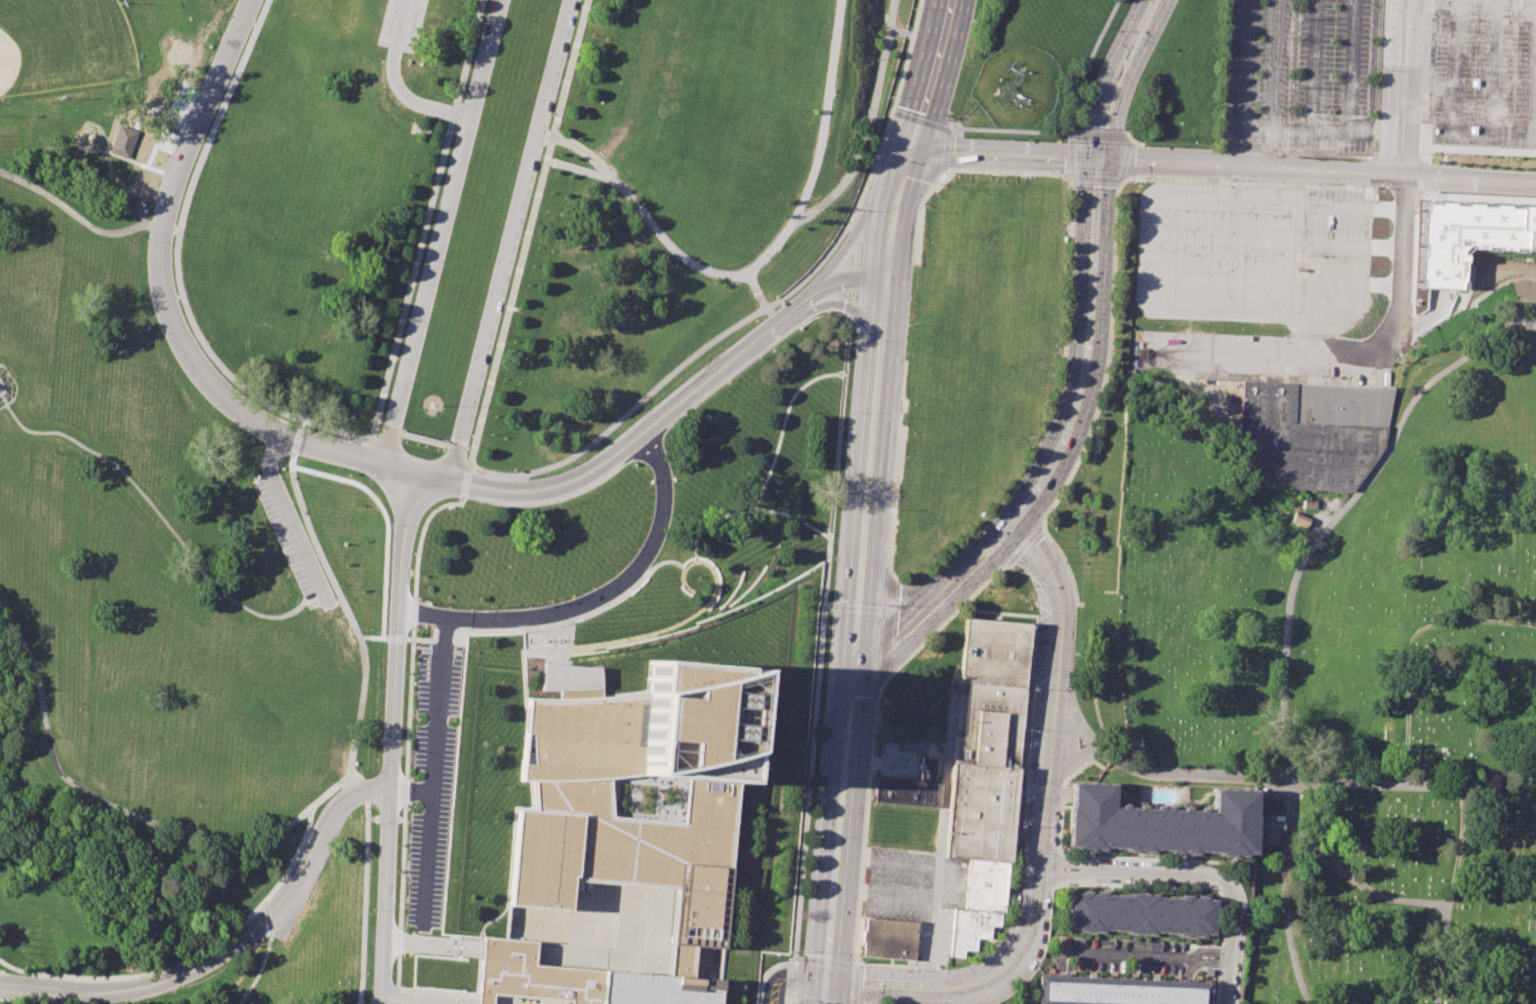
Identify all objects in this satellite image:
street lamp: (579, 5)
street lamp: (913, 9)
street lamp: (972, 22)
parking lot: (401, 24)
street lamp: (1113, 31)
road: (902, 32)
park: (63, 45)
street lamp: (1152, 51)
street lamp: (472, 58)
street lamp: (822, 73)
road: (926, 75)
parking lot: (1300, 75)
street lamp: (201, 77)
road: (1115, 77)
parking lot: (1484, 80)
street lamp: (560, 81)
road: (395, 85)
street lamp: (889, 98)
street lamp: (1083, 113)
road: (219, 114)
street lamp: (950, 118)
road: (918, 122)
road: (1069, 122)
street lamp: (1124, 123)
road: (868, 124)
street lamp: (453, 134)
road: (1069, 136)
road: (1128, 136)
street lamp: (1134, 138)
street lamp: (1007, 139)
building: (124, 141)
road: (1136, 142)
road: (1474, 149)
traffic signals: (904, 150)
road: (944, 151)
street lamp: (541, 155)
street lamp: (873, 155)
road: (1000, 155)
road: (1324, 156)
traffic signals: (1098, 158)
road: (1397, 158)
street lamp: (166, 159)
road: (1124, 160)
road: (1316, 170)
road: (581, 171)
road: (1004, 172)
street lamp: (1056, 173)
road: (1375, 173)
street lamp: (945, 174)
road: (1419, 174)
road: (1075, 178)
street lamp: (621, 179)
street lamp: (1226, 180)
road: (1248, 183)
road: (1072, 184)
street lamp: (1308, 184)
street lamp: (1375, 188)
road: (1397, 189)
street lamp: (797, 193)
road: (1476, 193)
street lamp: (37, 195)
street lamp: (1116, 195)
street lamp: (1073, 197)
street lamp: (851, 207)
street lamp: (434, 208)
park: (520, 209)
street lamp: (918, 211)
road: (918, 213)
road: (427, 218)
street lamp: (79, 225)
road: (531, 227)
street lamp: (522, 230)
road: (444, 232)
street lamp: (131, 234)
road: (850, 234)
street lamp: (183, 235)
building: (1466, 238)
road: (507, 239)
road: (165, 241)
street lamp: (145, 243)
parking lot: (1251, 254)
road: (851, 256)
street lamp: (708, 264)
road: (759, 265)
street lamp: (1069, 270)
street lamp: (1113, 273)
road: (849, 277)
road: (751, 280)
road: (1391, 282)
street lamp: (415, 283)
street lamp: (186, 292)
road: (848, 297)
road: (1090, 299)
street lamp: (502, 306)
road: (763, 308)
road: (769, 312)
street lamp: (825, 312)
road: (847, 318)
street lamp: (907, 326)
street lamp: (159, 333)
street lamp: (207, 339)
street lamp: (851, 339)
road: (878, 344)
street lamp: (1065, 346)
street lamp: (1109, 351)
street lamp: (396, 357)
street lamp: (757, 359)
road: (1107, 359)
street lamp: (232, 371)
street lamp: (484, 381)
road: (16, 387)
flagpole: (433, 405)
street lamp: (210, 408)
street lamp: (287, 408)
road: (676, 408)
street lamp: (693, 411)
street lamp: (845, 412)
street lamp: (899, 417)
street lamp: (1047, 420)
street lamp: (380, 423)
road: (338, 427)
road: (782, 428)
building: (1311, 431)
street lamp: (1091, 439)
street lamp: (468, 444)
road: (341, 450)
street lamp: (283, 457)
street lamp: (629, 463)
street lamp: (644, 466)
road: (401, 468)
road: (894, 468)
road: (432, 475)
street lamp: (368, 479)
street lamp: (1018, 481)
road: (469, 482)
street lamp: (300, 485)
road: (1042, 485)
railway: (882, 497)
railway: (847, 498)
street lamp: (477, 503)
street lamp: (557, 504)
street lamp: (837, 506)
street lamp: (1051, 508)
road: (749, 510)
street lamp: (891, 510)
road: (287, 513)
road: (160, 516)
street lamp: (389, 527)
street lamp: (973, 527)
street lamp: (317, 534)
road: (421, 535)
parking lot: (296, 543)
road: (1025, 544)
street lamp: (283, 555)
road: (988, 557)
street lamp: (1063, 560)
road: (891, 576)
street lamp: (929, 576)
street lamp: (996, 576)
park: (163, 584)
street lamp: (340, 585)
road: (889, 586)
street lamp: (1030, 586)
street lamp: (592, 588)
road: (897, 592)
flagpole: (569, 594)
flagpole: (559, 597)
flagpole: (548, 600)
street lamp: (831, 601)
flagpole: (537, 602)
flagpole: (526, 603)
flagpole: (515, 604)
road: (887, 604)
street lamp: (1, 605)
flagpole: (491, 605)
flagpole: (504, 605)
road: (852, 608)
road: (1287, 608)
street lamp: (472, 609)
road: (886, 613)
road: (857, 615)
road: (423, 616)
road: (515, 618)
road: (354, 621)
street lamp: (385, 628)
road: (513, 629)
road: (661, 630)
street lamp: (936, 631)
street lamp: (362, 633)
street lamp: (375, 634)
road: (571, 634)
road: (375, 637)
road: (555, 637)
road: (906, 637)
road: (398, 638)
road: (421, 639)
street lamp: (1074, 639)
road: (442, 640)
road: (1057, 640)
road: (456, 641)
street lamp: (26, 642)
road: (1410, 645)
road: (883, 647)
building: (991, 652)
road: (818, 662)
park: (1357, 672)
street lamp: (892, 674)
road: (881, 681)
road: (881, 684)
street lamp: (368, 685)
street lamp: (44, 689)
traffic signals: (852, 692)
street lamp: (82, 710)
street lamp: (467, 717)
street lamp: (361, 725)
street lamp: (380, 725)
street lamp: (818, 726)
street lamp: (1026, 731)
street lamp: (871, 735)
road: (392, 737)
street lamp: (51, 738)
street lamp: (412, 751)
road: (1069, 762)
street lamp: (1080, 771)
building: (985, 775)
road: (1242, 775)
road: (1500, 775)
parking lot: (432, 779)
street lamp: (74, 780)
street lamp: (332, 781)
street lamp: (461, 784)
road: (661, 786)
building: (910, 787)
road: (365, 789)
street lamp: (196, 802)
street lamp: (116, 804)
street lamp: (408, 806)
street lamp: (294, 814)
street lamp: (348, 818)
building: (1160, 822)
street lamp: (376, 824)
street lamp: (178, 825)
street lamp: (408, 825)
building: (1271, 827)
street lamp: (1019, 828)
street lamp: (809, 835)
street lamp: (242, 836)
street lamp: (863, 838)
road: (941, 840)
building: (623, 841)
road: (837, 847)
road: (429, 853)
road: (293, 855)
road: (850, 859)
road: (902, 864)
road: (1036, 869)
street lamp: (359, 872)
road: (1136, 875)
street lamp: (406, 877)
street lamp: (453, 880)
road: (365, 883)
parking lot: (900, 883)
building: (985, 884)
road: (1360, 884)
road: (885, 892)
road: (1452, 894)
street lamp: (308, 902)
street lamp: (371, 909)
road: (860, 912)
building: (1142, 914)
road: (268, 915)
street lamp: (402, 919)
street lamp: (357, 922)
street lamp: (1007, 923)
building: (970, 929)
building: (891, 939)
street lamp: (254, 946)
road: (1231, 946)
street lamp: (801, 948)
street lamp: (402, 953)
street lamp: (434, 954)
road: (1127, 954)
parking lot: (1120, 956)
road: (1190, 956)
street lamp: (465, 957)
street lamp: (860, 959)
road: (849, 964)
street lamp: (940, 965)
road: (160, 969)
road: (767, 970)
road: (256, 973)
street lamp: (355, 974)
traffic signals: (825, 981)
street lamp: (400, 985)
road: (918, 985)
street lamp: (428, 988)
road: (74, 990)
building: (1120, 990)
street lamp: (462, 991)
street lamp: (172, 993)
road: (793, 997)
road: (786, 999)
road: (815, 1000)
road: (409, 1002)
road: (395, 1003)

